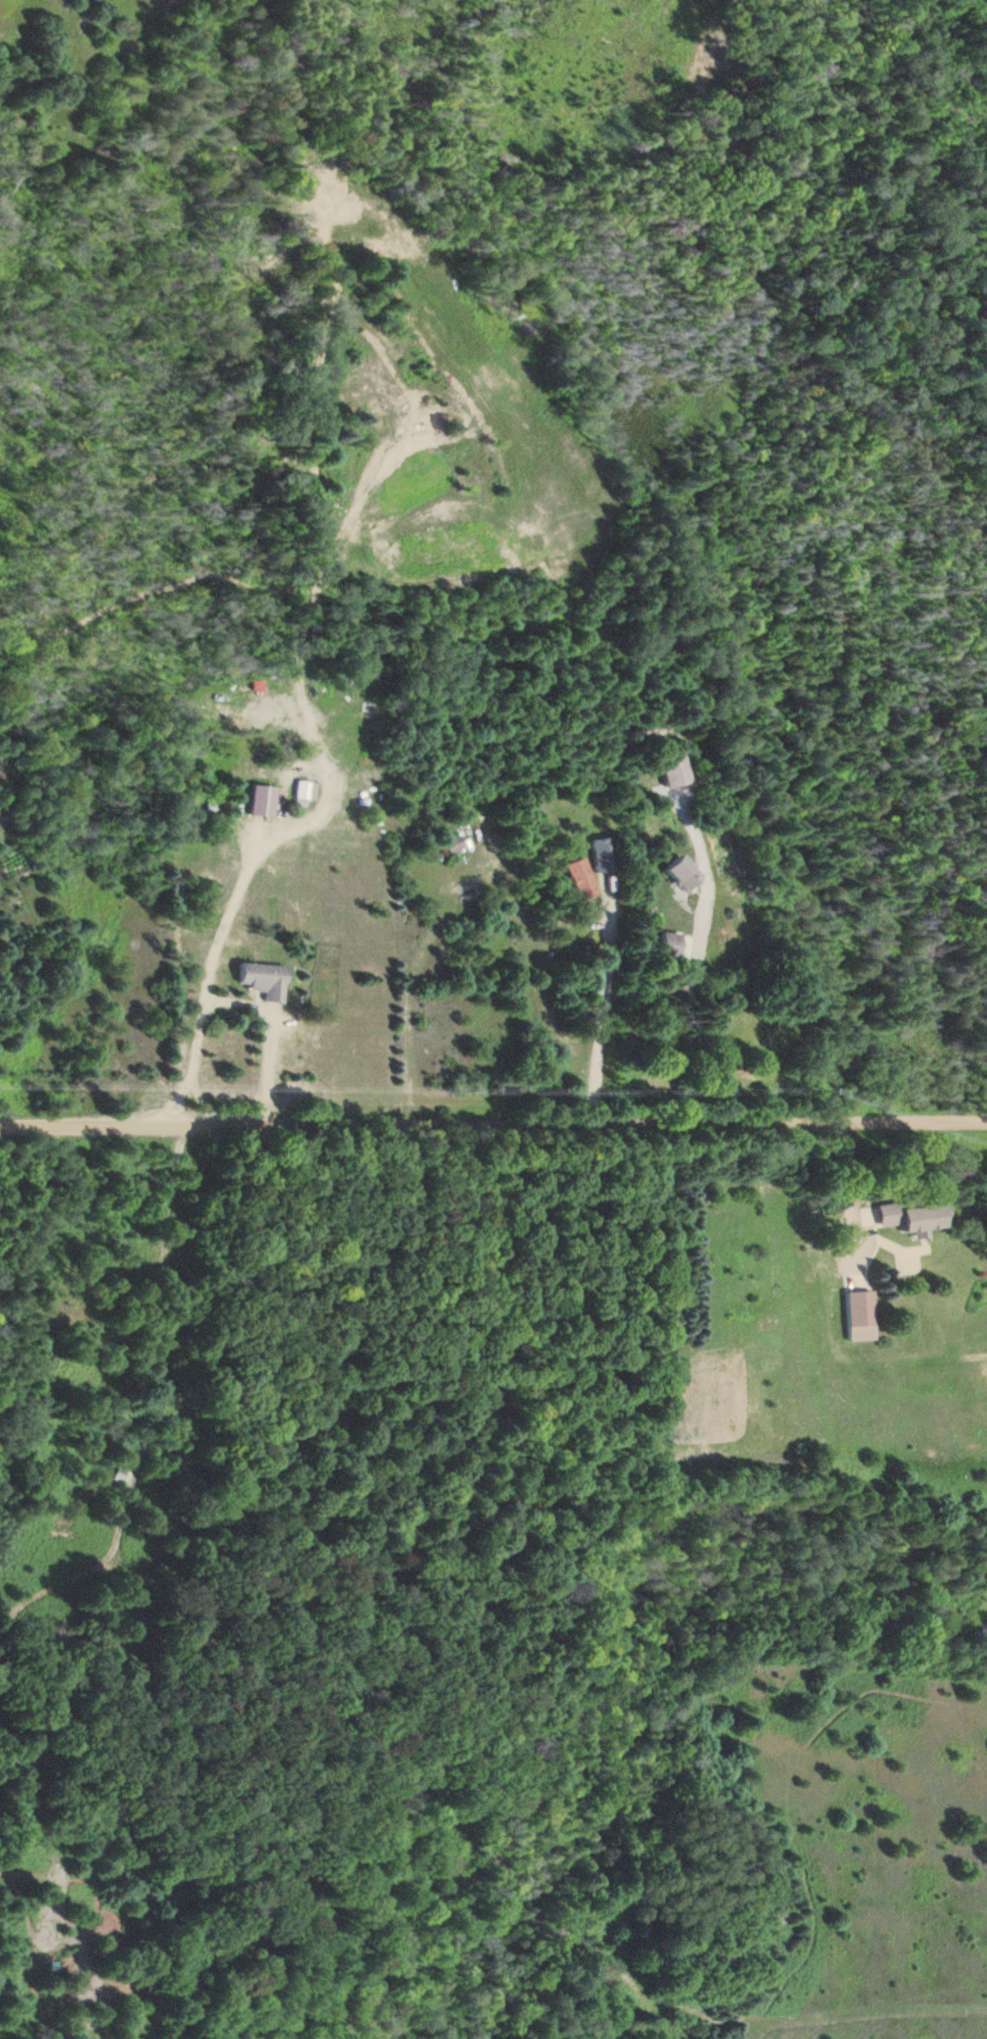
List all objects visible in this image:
building: (666, 771)
building: (296, 791)
building: (254, 801)
building: (450, 846)
building: (594, 855)
building: (670, 874)
building: (571, 879)
building: (661, 946)
building: (256, 980)
road: (493, 1129)
building: (905, 1218)
building: (818, 1270)
building: (852, 1316)
building: (761, 1324)

